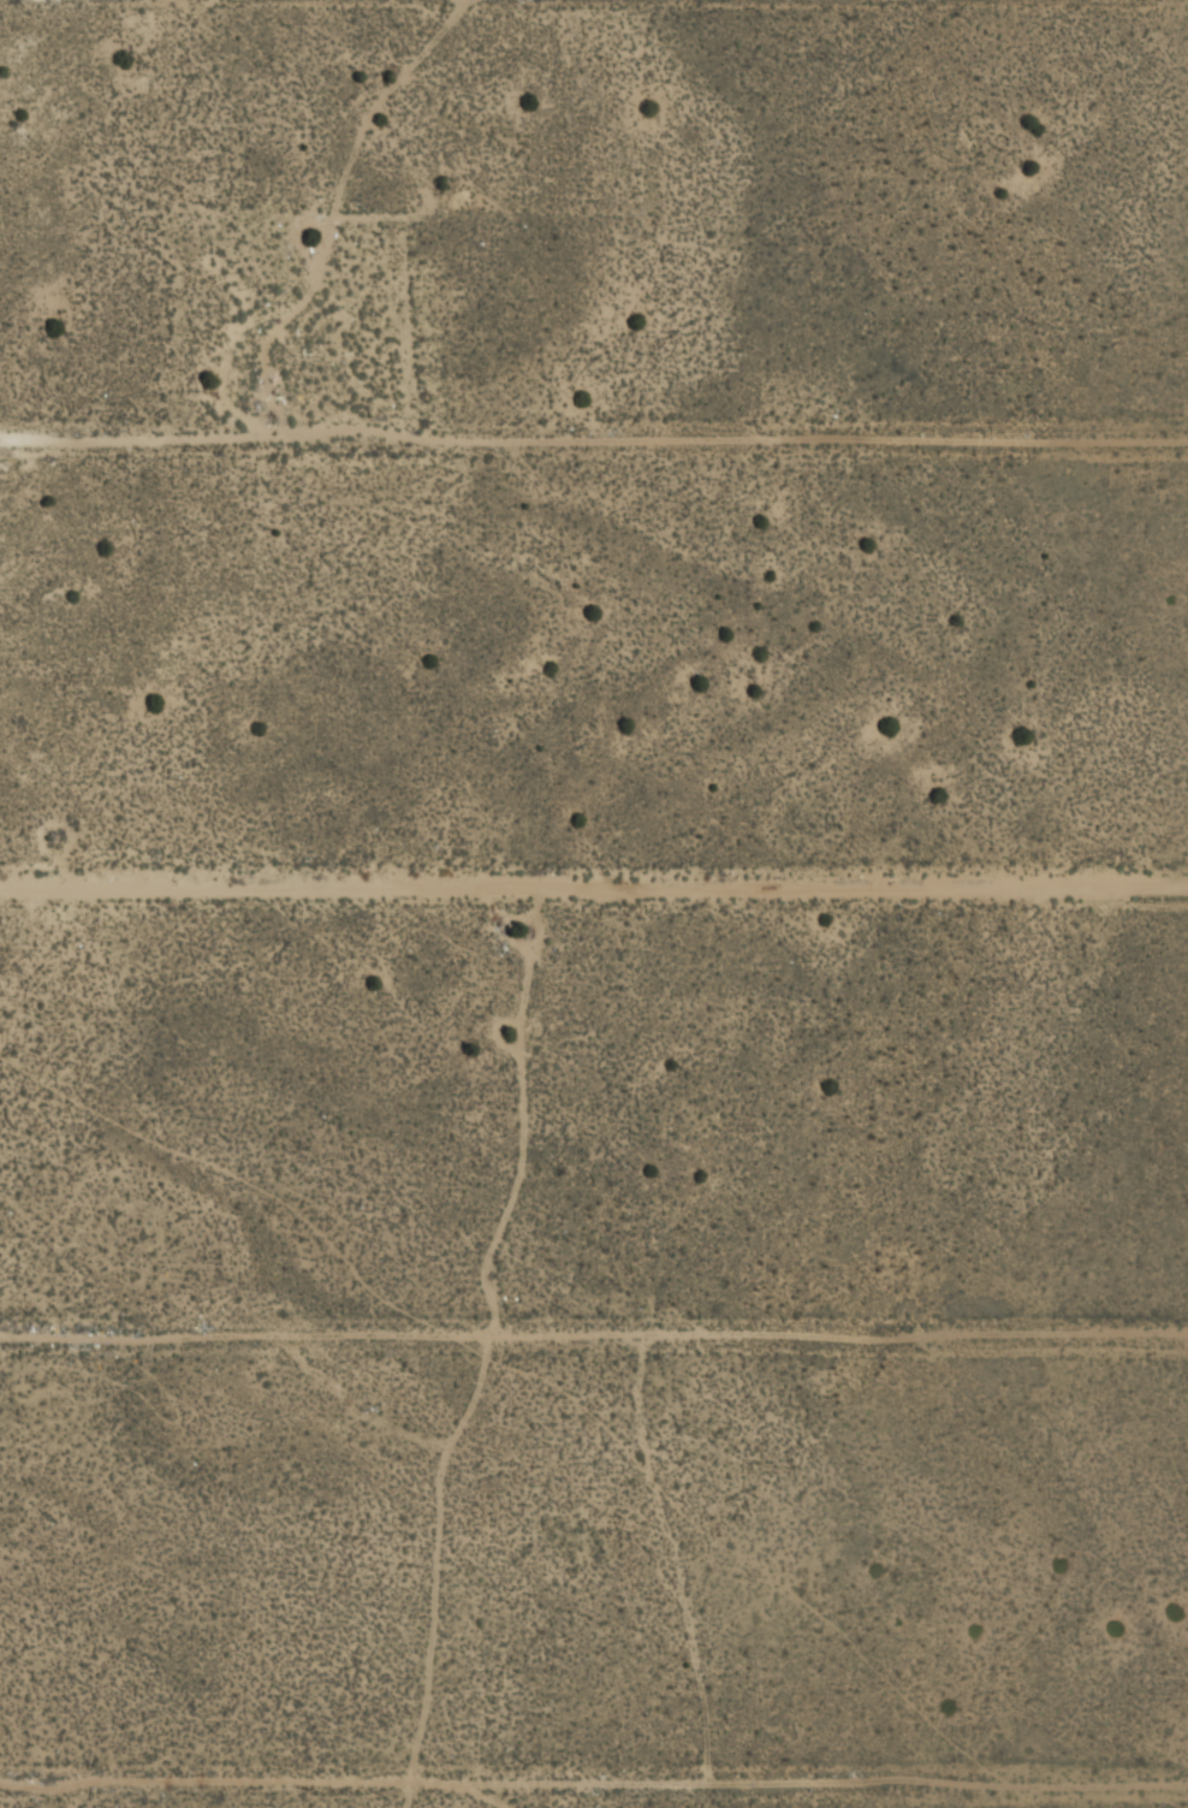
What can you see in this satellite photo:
road: (594, 435)
road: (593, 887)
road: (594, 1334)
road: (594, 1784)

